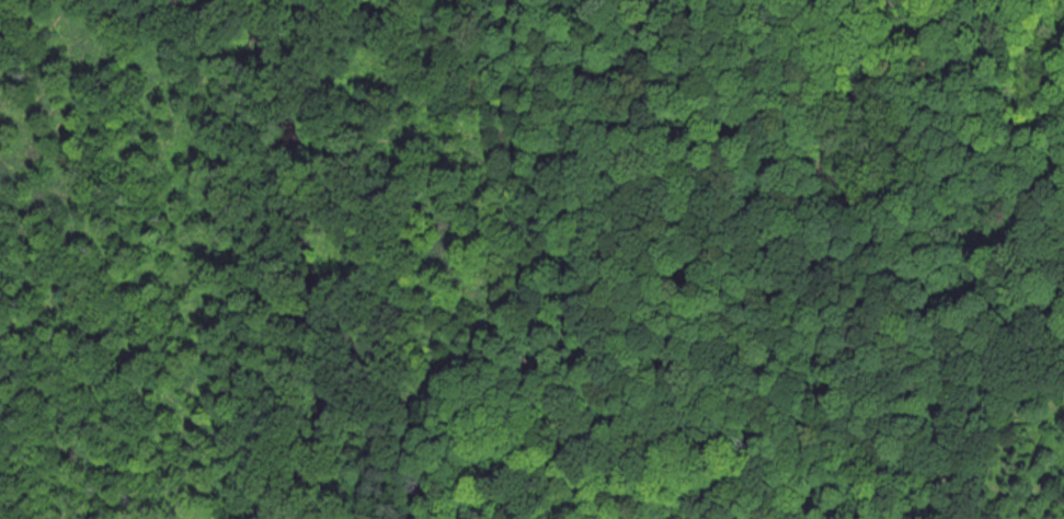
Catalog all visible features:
road: (666, 131)
road: (845, 230)
road: (793, 238)
park: (531, 259)
road: (1055, 259)
road: (517, 378)
road: (613, 380)
road: (724, 382)
road: (847, 392)
road: (847, 395)
road: (905, 452)
road: (884, 457)
road: (860, 460)

